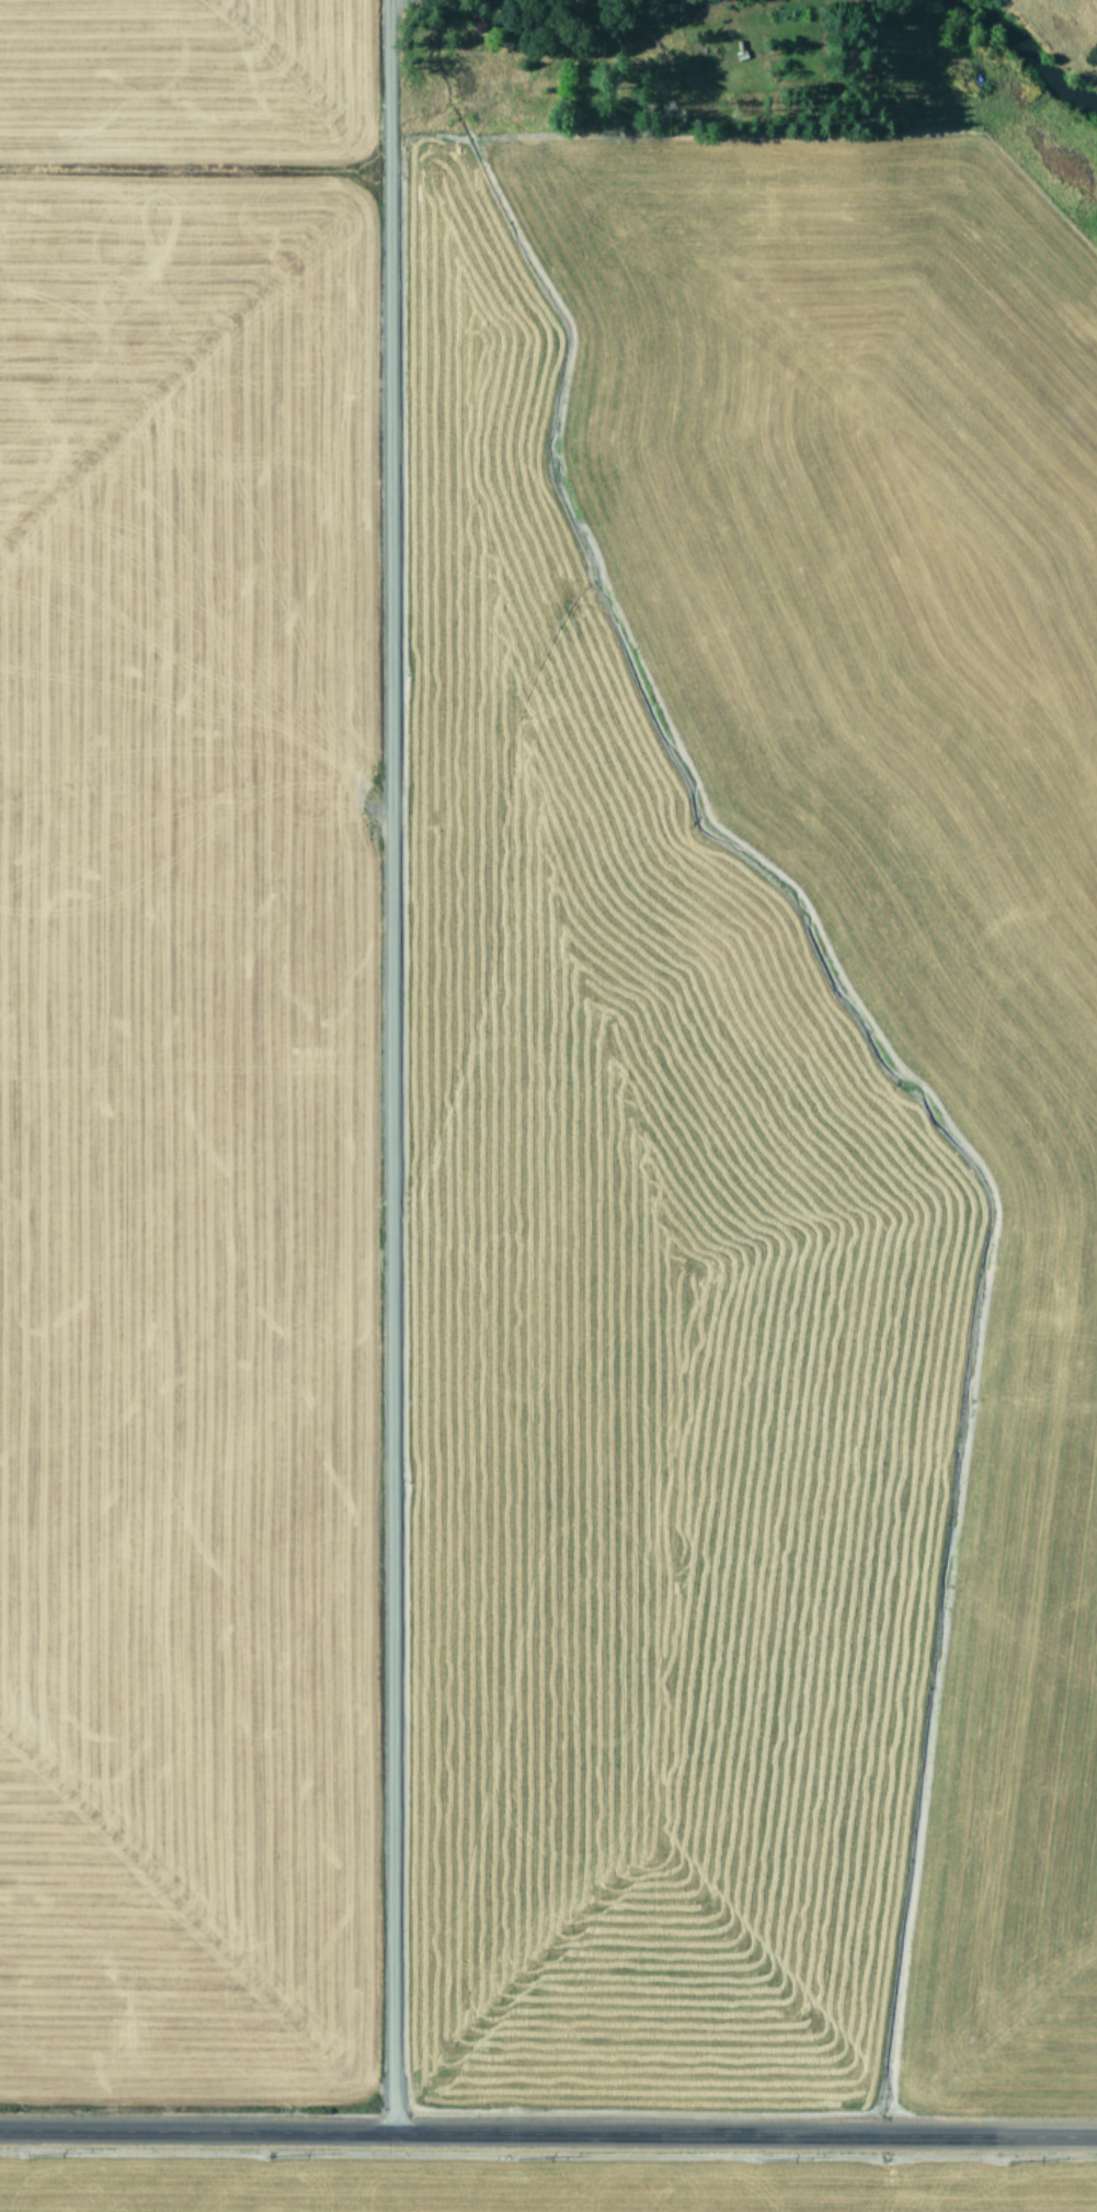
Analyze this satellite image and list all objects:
road: (393, 1066)
crop: (539, 1086)
road: (548, 2133)
crop: (536, 2181)

